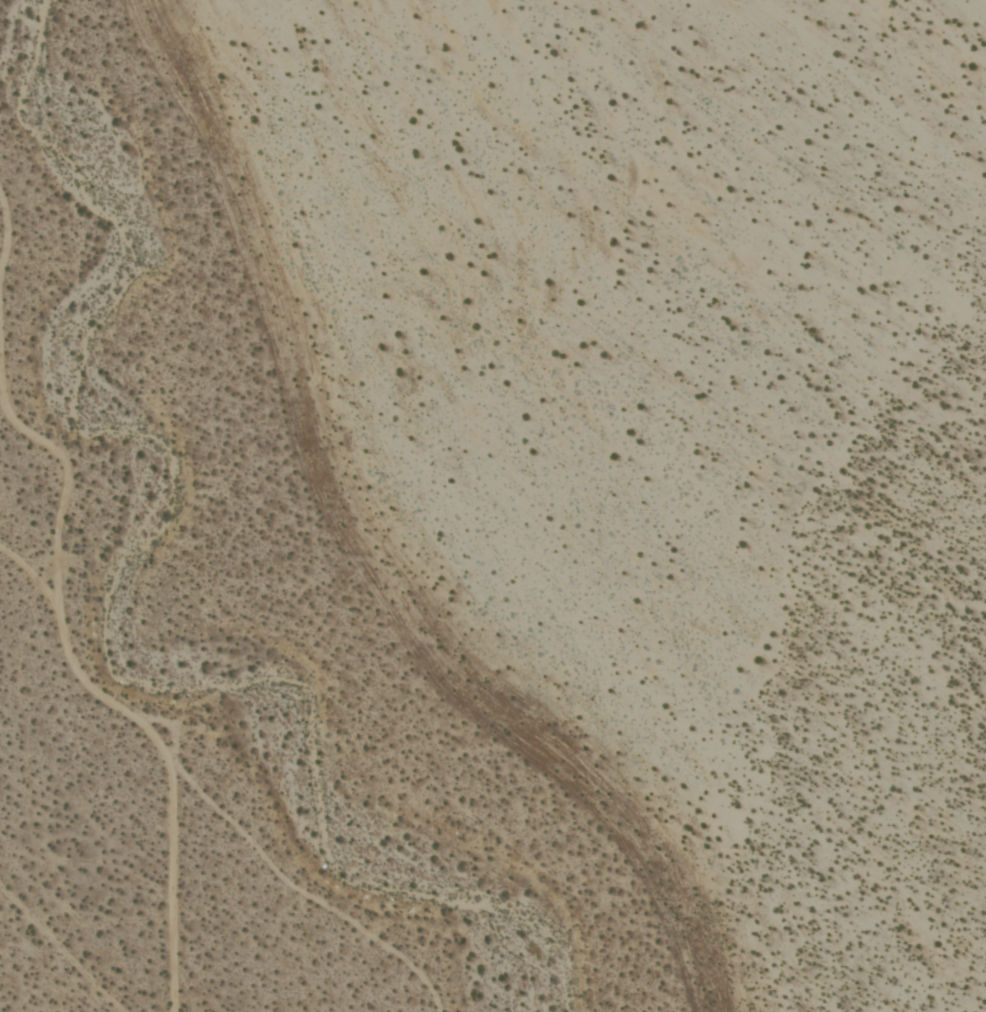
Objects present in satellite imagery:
road: (52, 614)
road: (172, 829)

